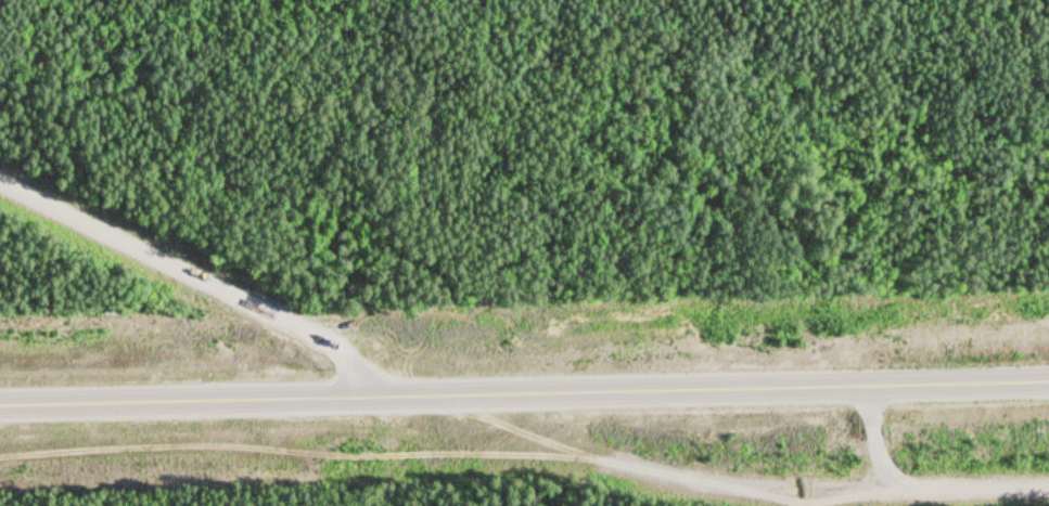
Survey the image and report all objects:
road: (189, 275)
road: (524, 387)
road: (756, 482)
road: (916, 482)

